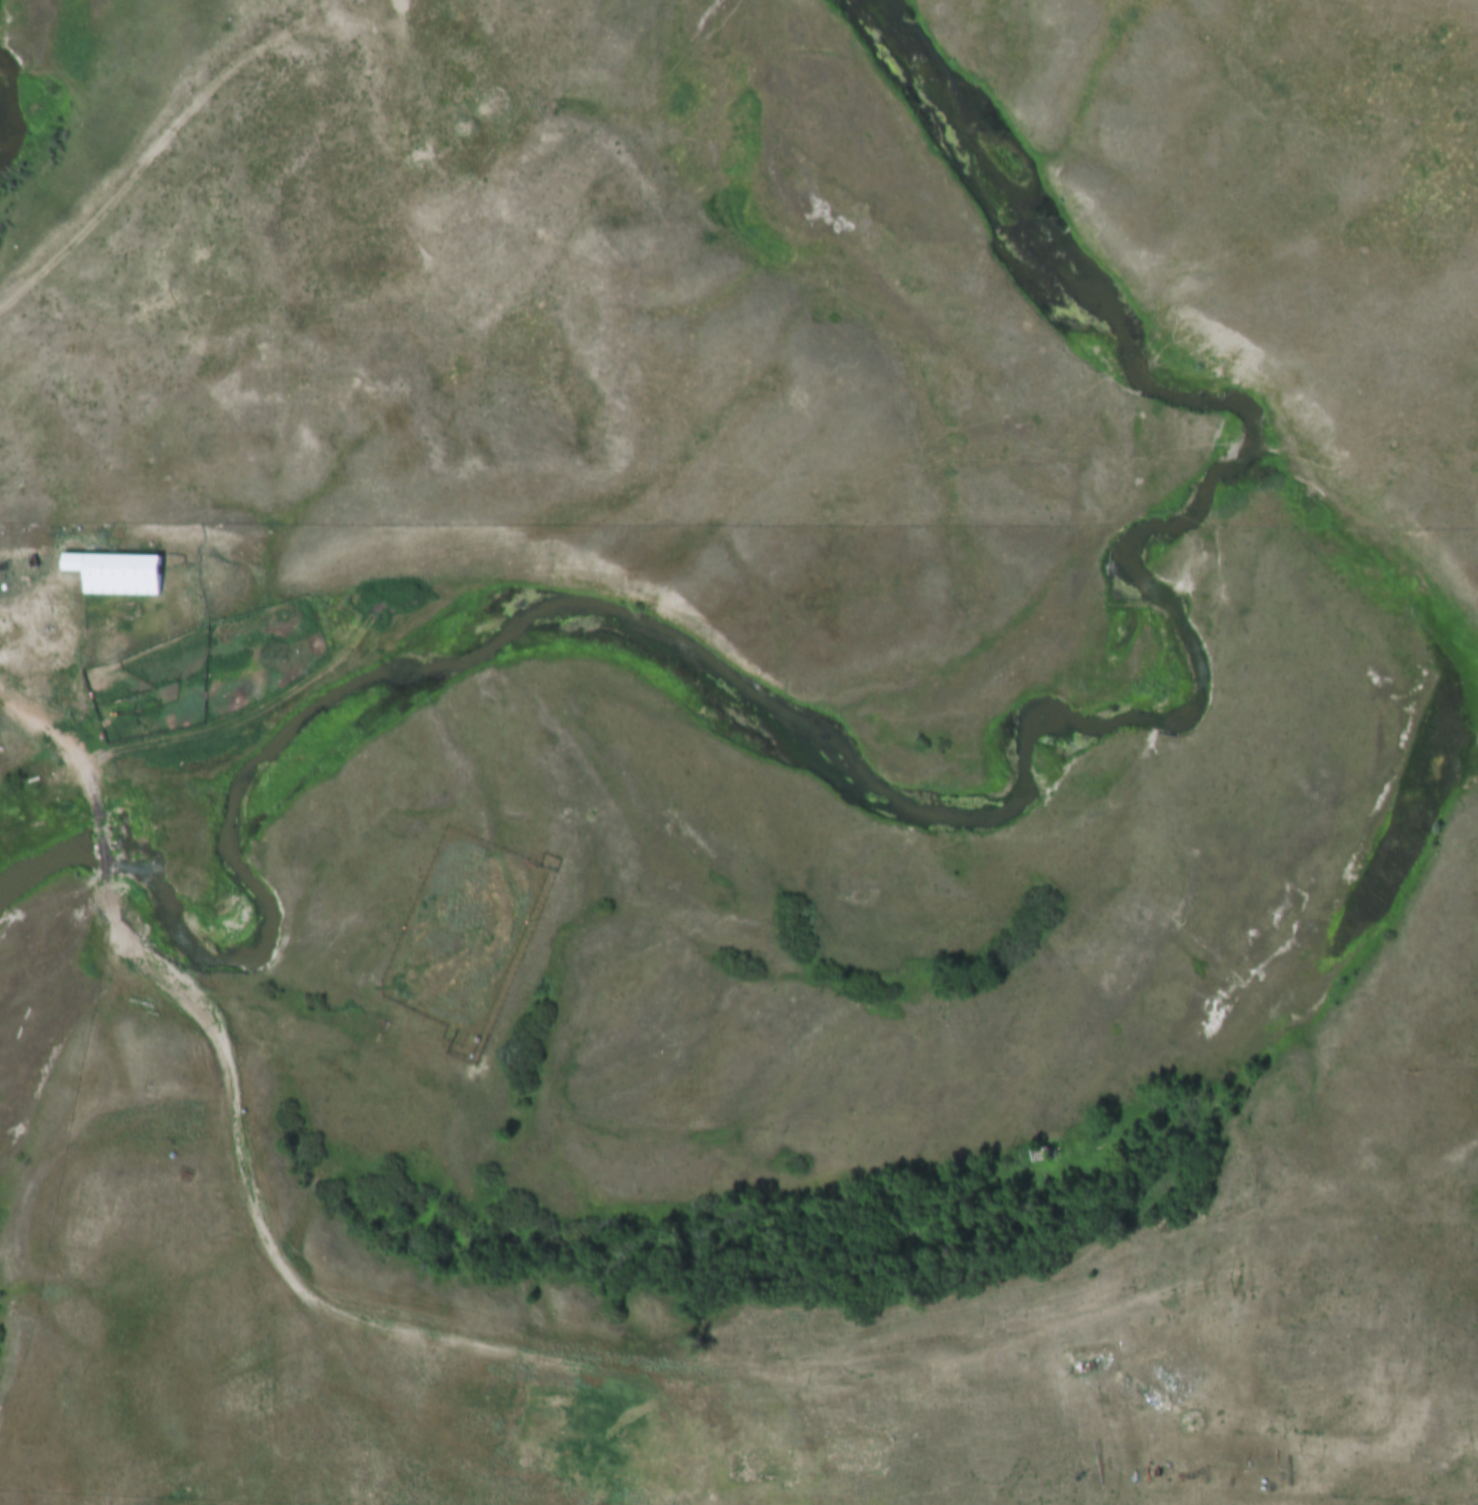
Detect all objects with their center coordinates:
road: (151, 161)
building: (22, 560)
silo: (22, 560)
building: (116, 565)
road: (36, 717)
road: (280, 1259)

